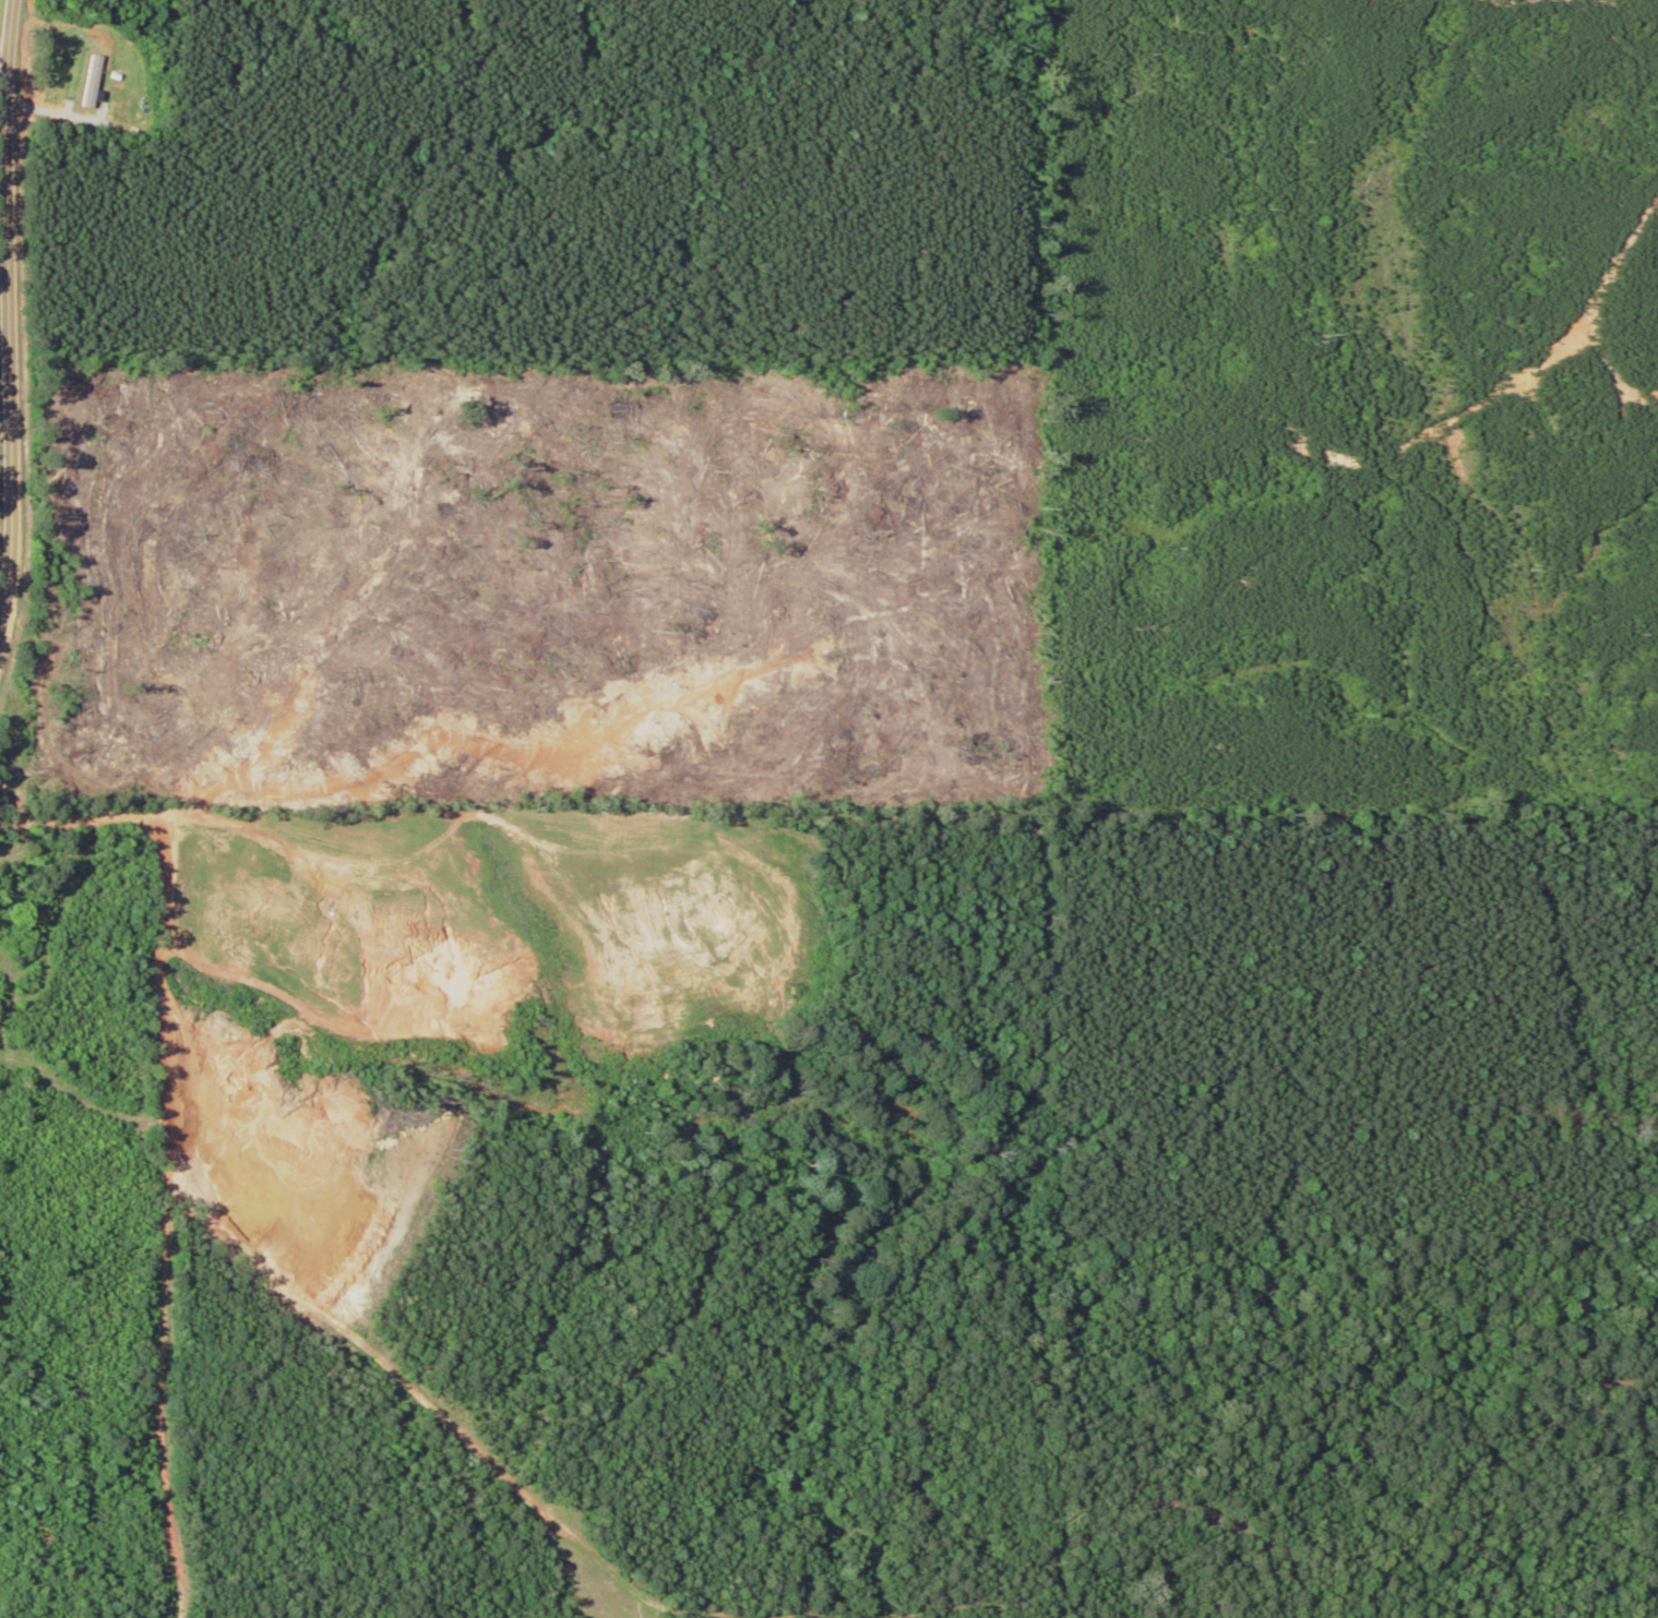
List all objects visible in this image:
road: (334, 359)

